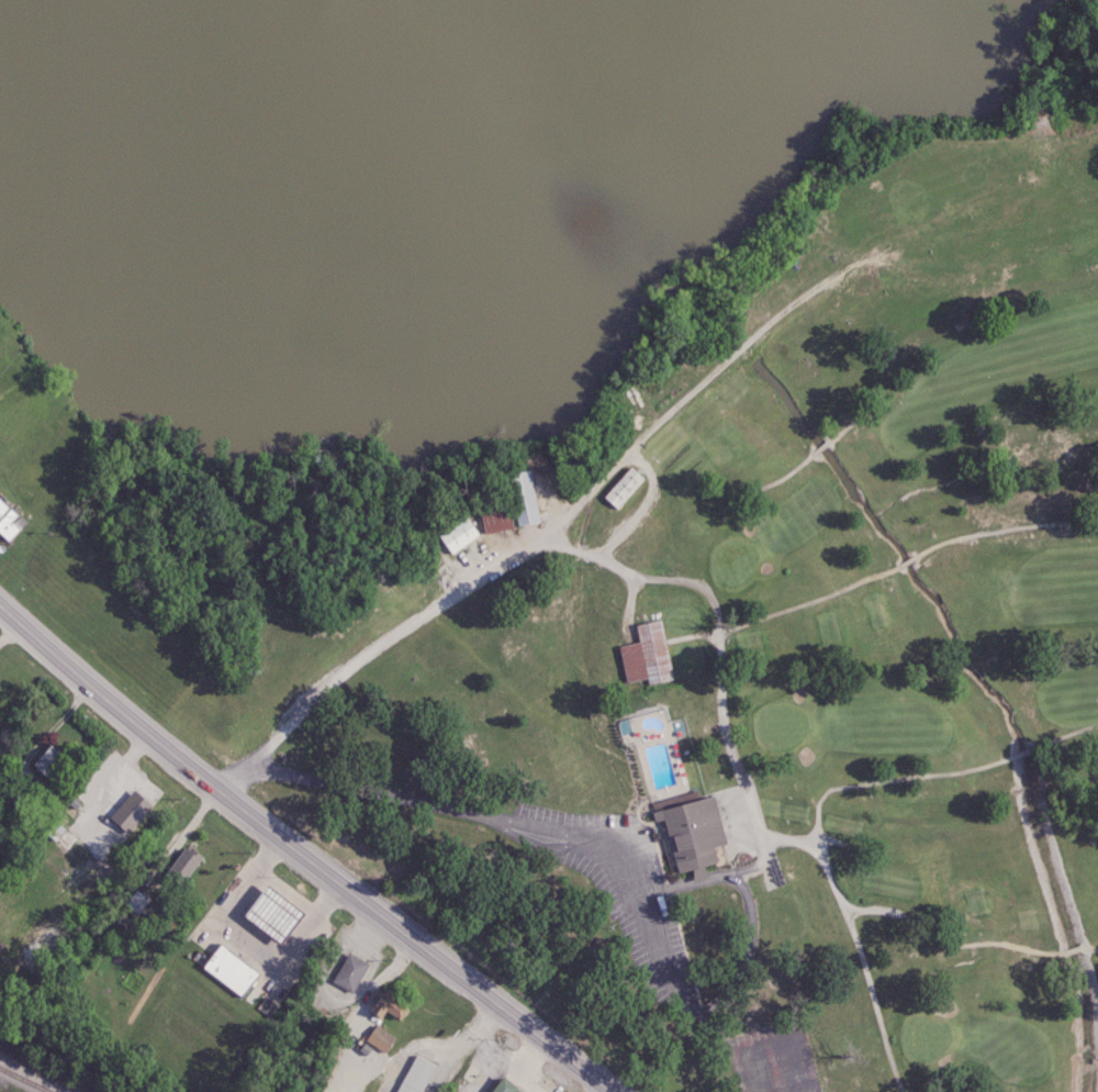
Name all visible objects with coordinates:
building: (623, 487)
building: (523, 497)
building: (495, 517)
road: (568, 520)
building: (9, 522)
building: (457, 534)
road: (850, 587)
road: (10, 634)
building: (647, 655)
park: (777, 661)
road: (52, 731)
building: (47, 760)
road: (746, 781)
building: (128, 811)
road: (488, 813)
building: (691, 834)
road: (296, 857)
building: (182, 863)
parking lot: (635, 898)
building: (136, 902)
building: (269, 915)
road: (249, 935)
road: (968, 941)
road: (855, 945)
building: (223, 969)
building: (349, 972)
road: (372, 987)
road: (322, 989)
building: (386, 1003)
road: (478, 1027)
building: (379, 1037)
road: (411, 1050)
road: (441, 1068)
building: (415, 1074)
railway: (25, 1079)
building: (502, 1087)

